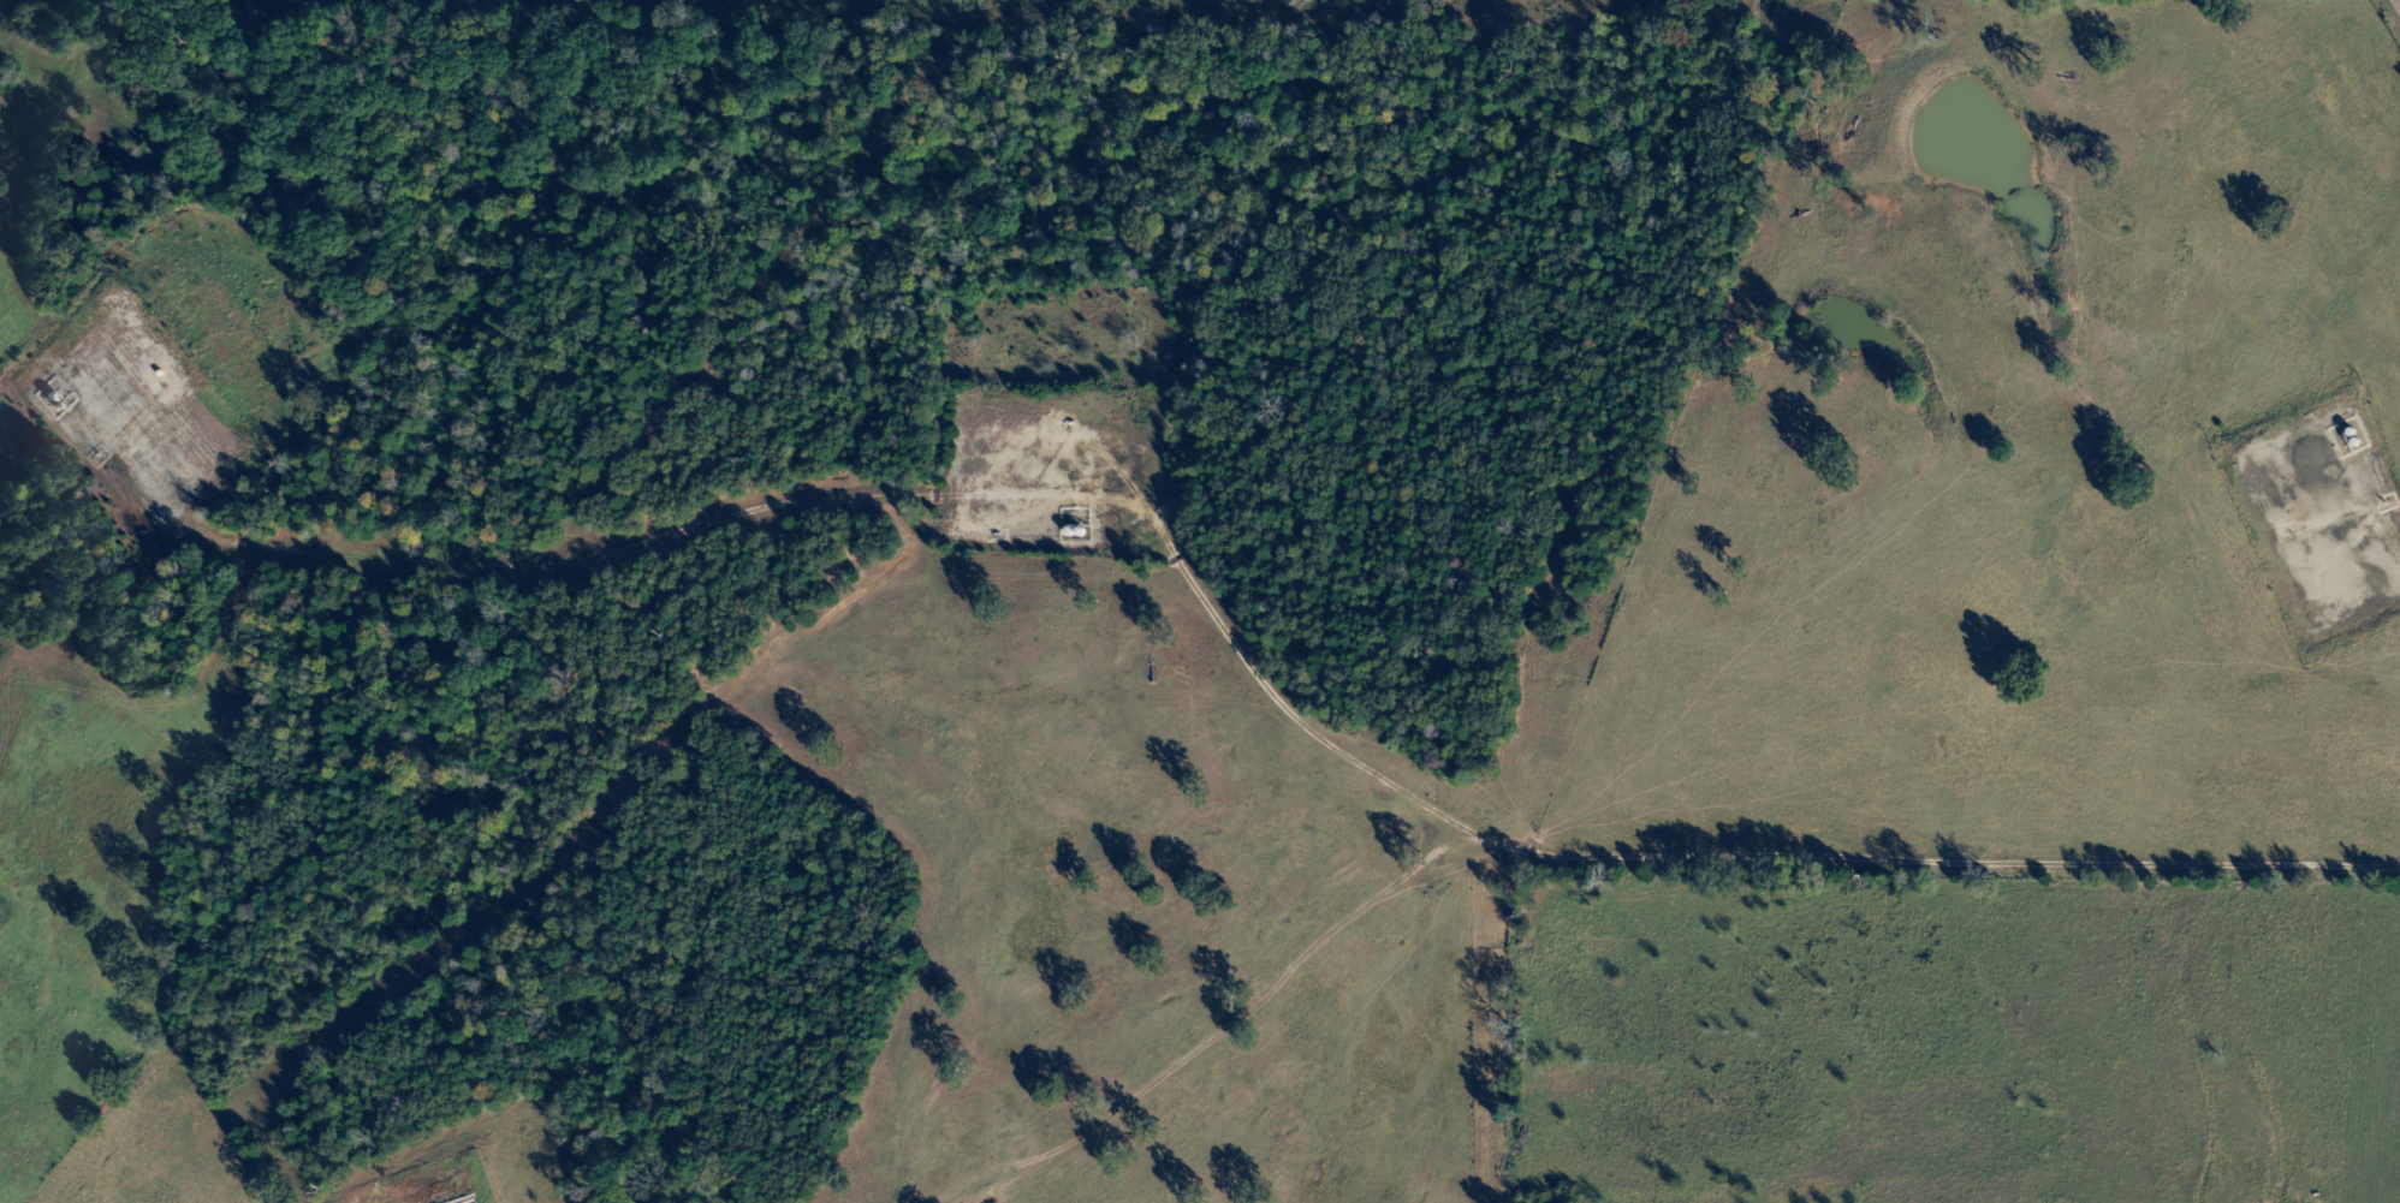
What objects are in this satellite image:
road: (2396, 4)

